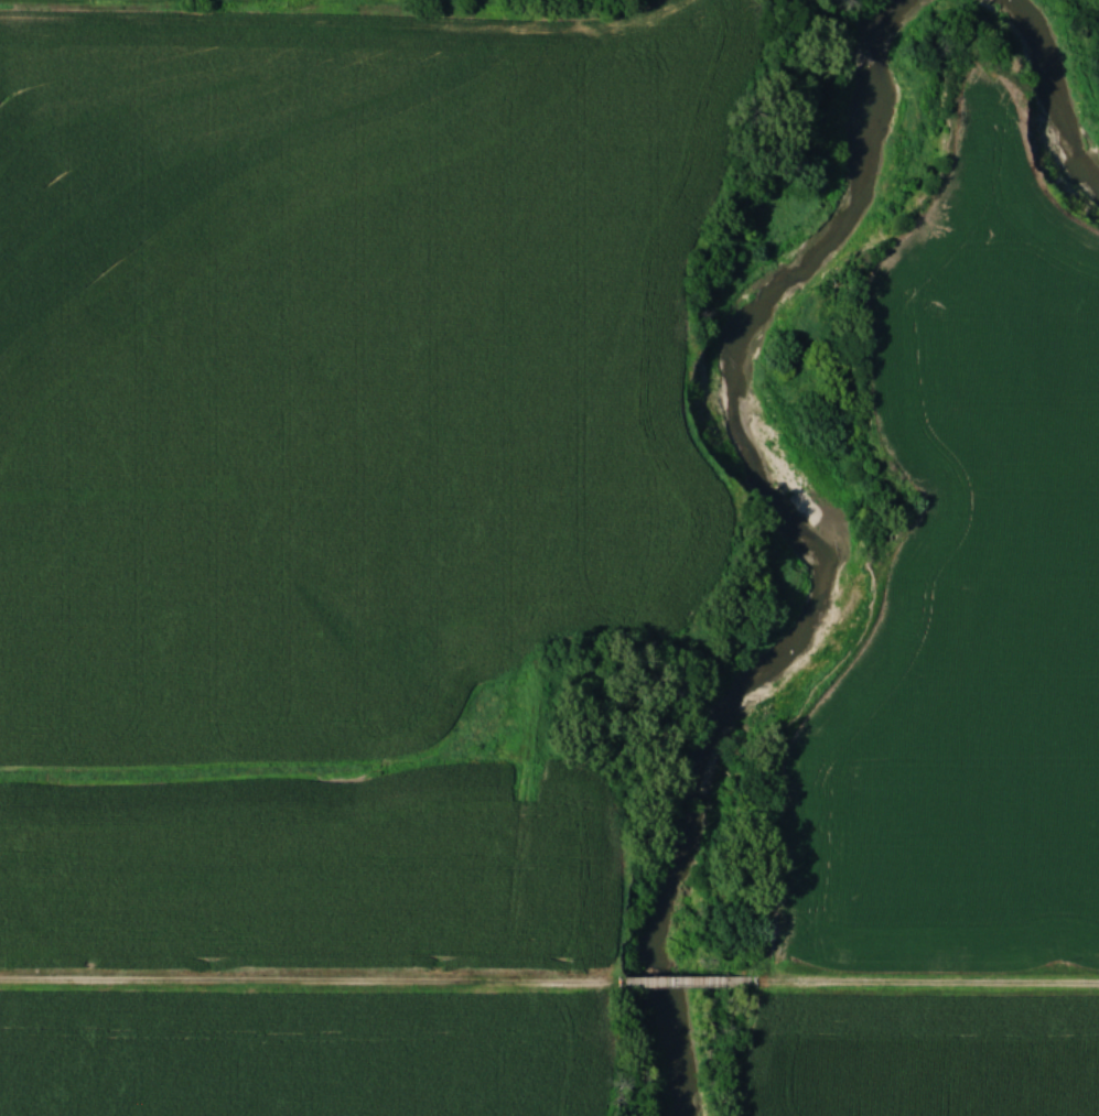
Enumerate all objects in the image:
river: (1064, 76)
river: (832, 528)
road: (931, 980)
road: (303, 983)

